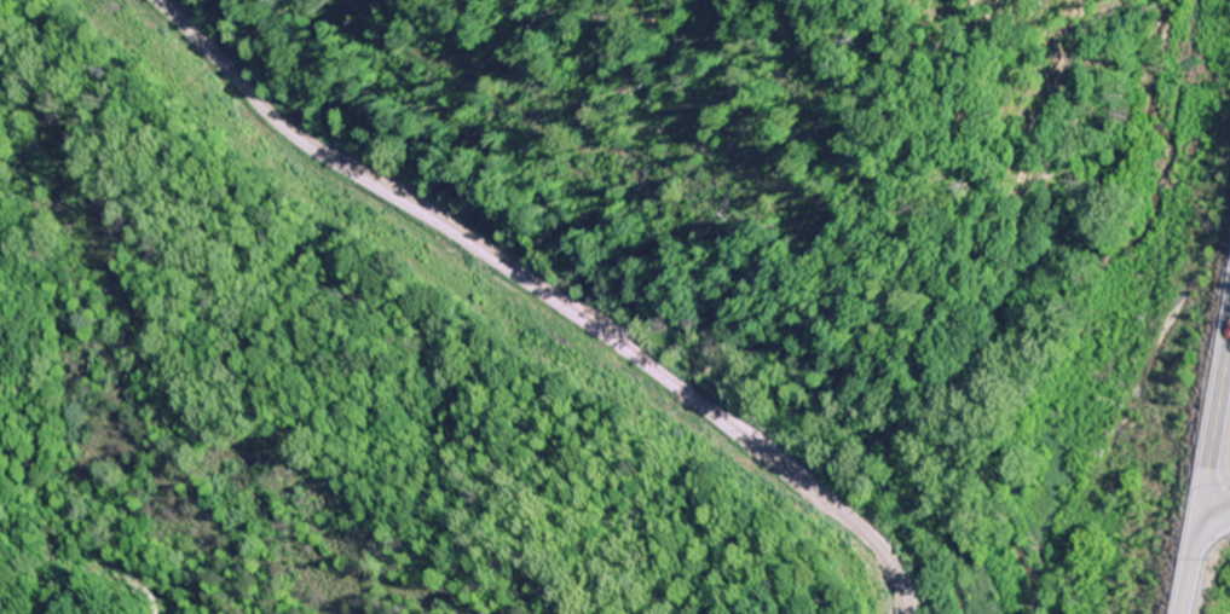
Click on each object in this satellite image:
road: (1206, 473)
road: (1214, 512)

